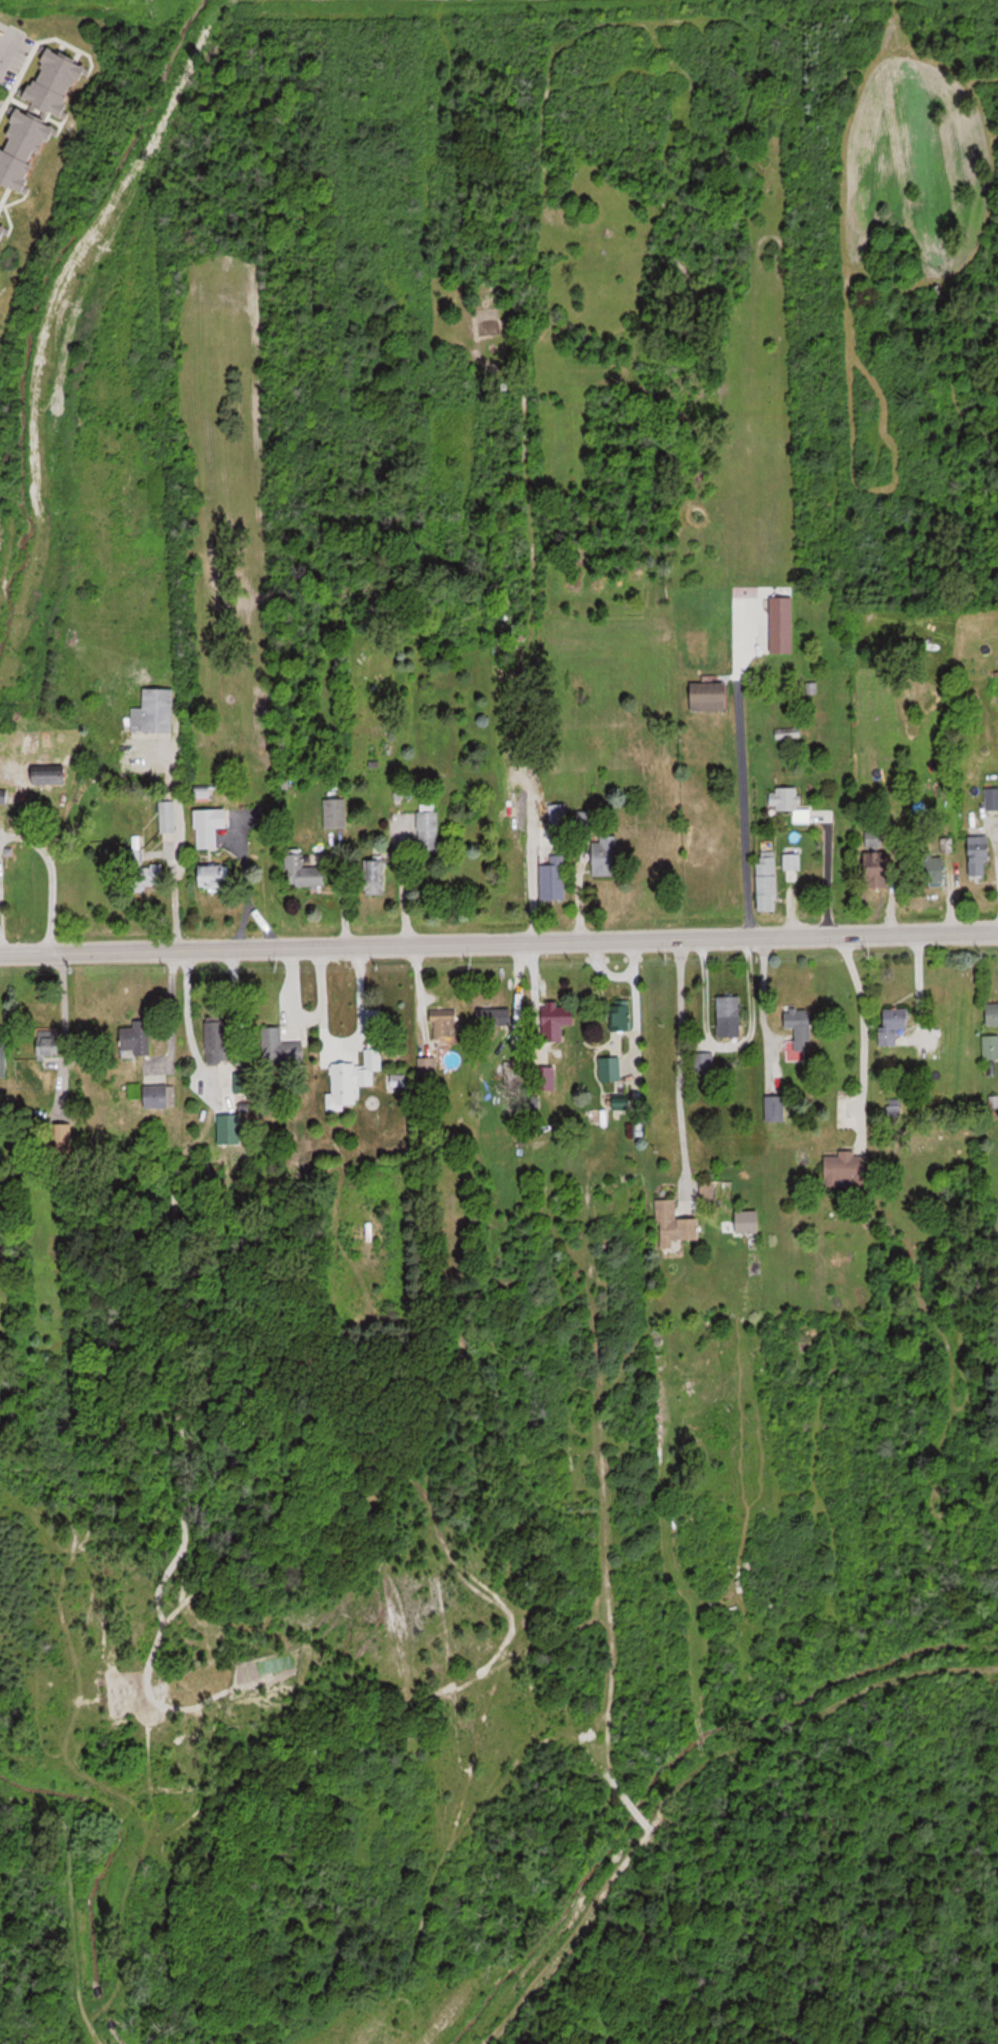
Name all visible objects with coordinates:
road: (2, 53)
building: (57, 81)
building: (24, 148)
building: (2, 232)
building: (728, 293)
building: (782, 610)
building: (709, 699)
building: (155, 710)
building: (789, 733)
building: (44, 775)
road: (740, 786)
building: (3, 795)
building: (797, 807)
building: (336, 813)
building: (558, 814)
building: (168, 816)
building: (583, 818)
building: (210, 826)
building: (428, 826)
road: (21, 834)
building: (874, 840)
building: (605, 855)
building: (793, 861)
building: (980, 862)
building: (877, 869)
road: (827, 870)
building: (142, 872)
building: (216, 876)
building: (376, 876)
building: (555, 878)
building: (769, 883)
road: (499, 940)
road: (288, 994)
road: (760, 1010)
building: (992, 1013)
building: (730, 1016)
building: (491, 1017)
building: (621, 1017)
building: (557, 1020)
road: (190, 1023)
building: (893, 1024)
building: (446, 1026)
building: (799, 1028)
road: (865, 1032)
building: (136, 1037)
building: (218, 1040)
building: (48, 1043)
building: (273, 1045)
building: (991, 1046)
road: (339, 1047)
building: (4, 1058)
road: (677, 1064)
building: (704, 1064)
building: (371, 1066)
building: (610, 1068)
building: (545, 1078)
building: (160, 1096)
building: (847, 1170)
building: (675, 1226)

